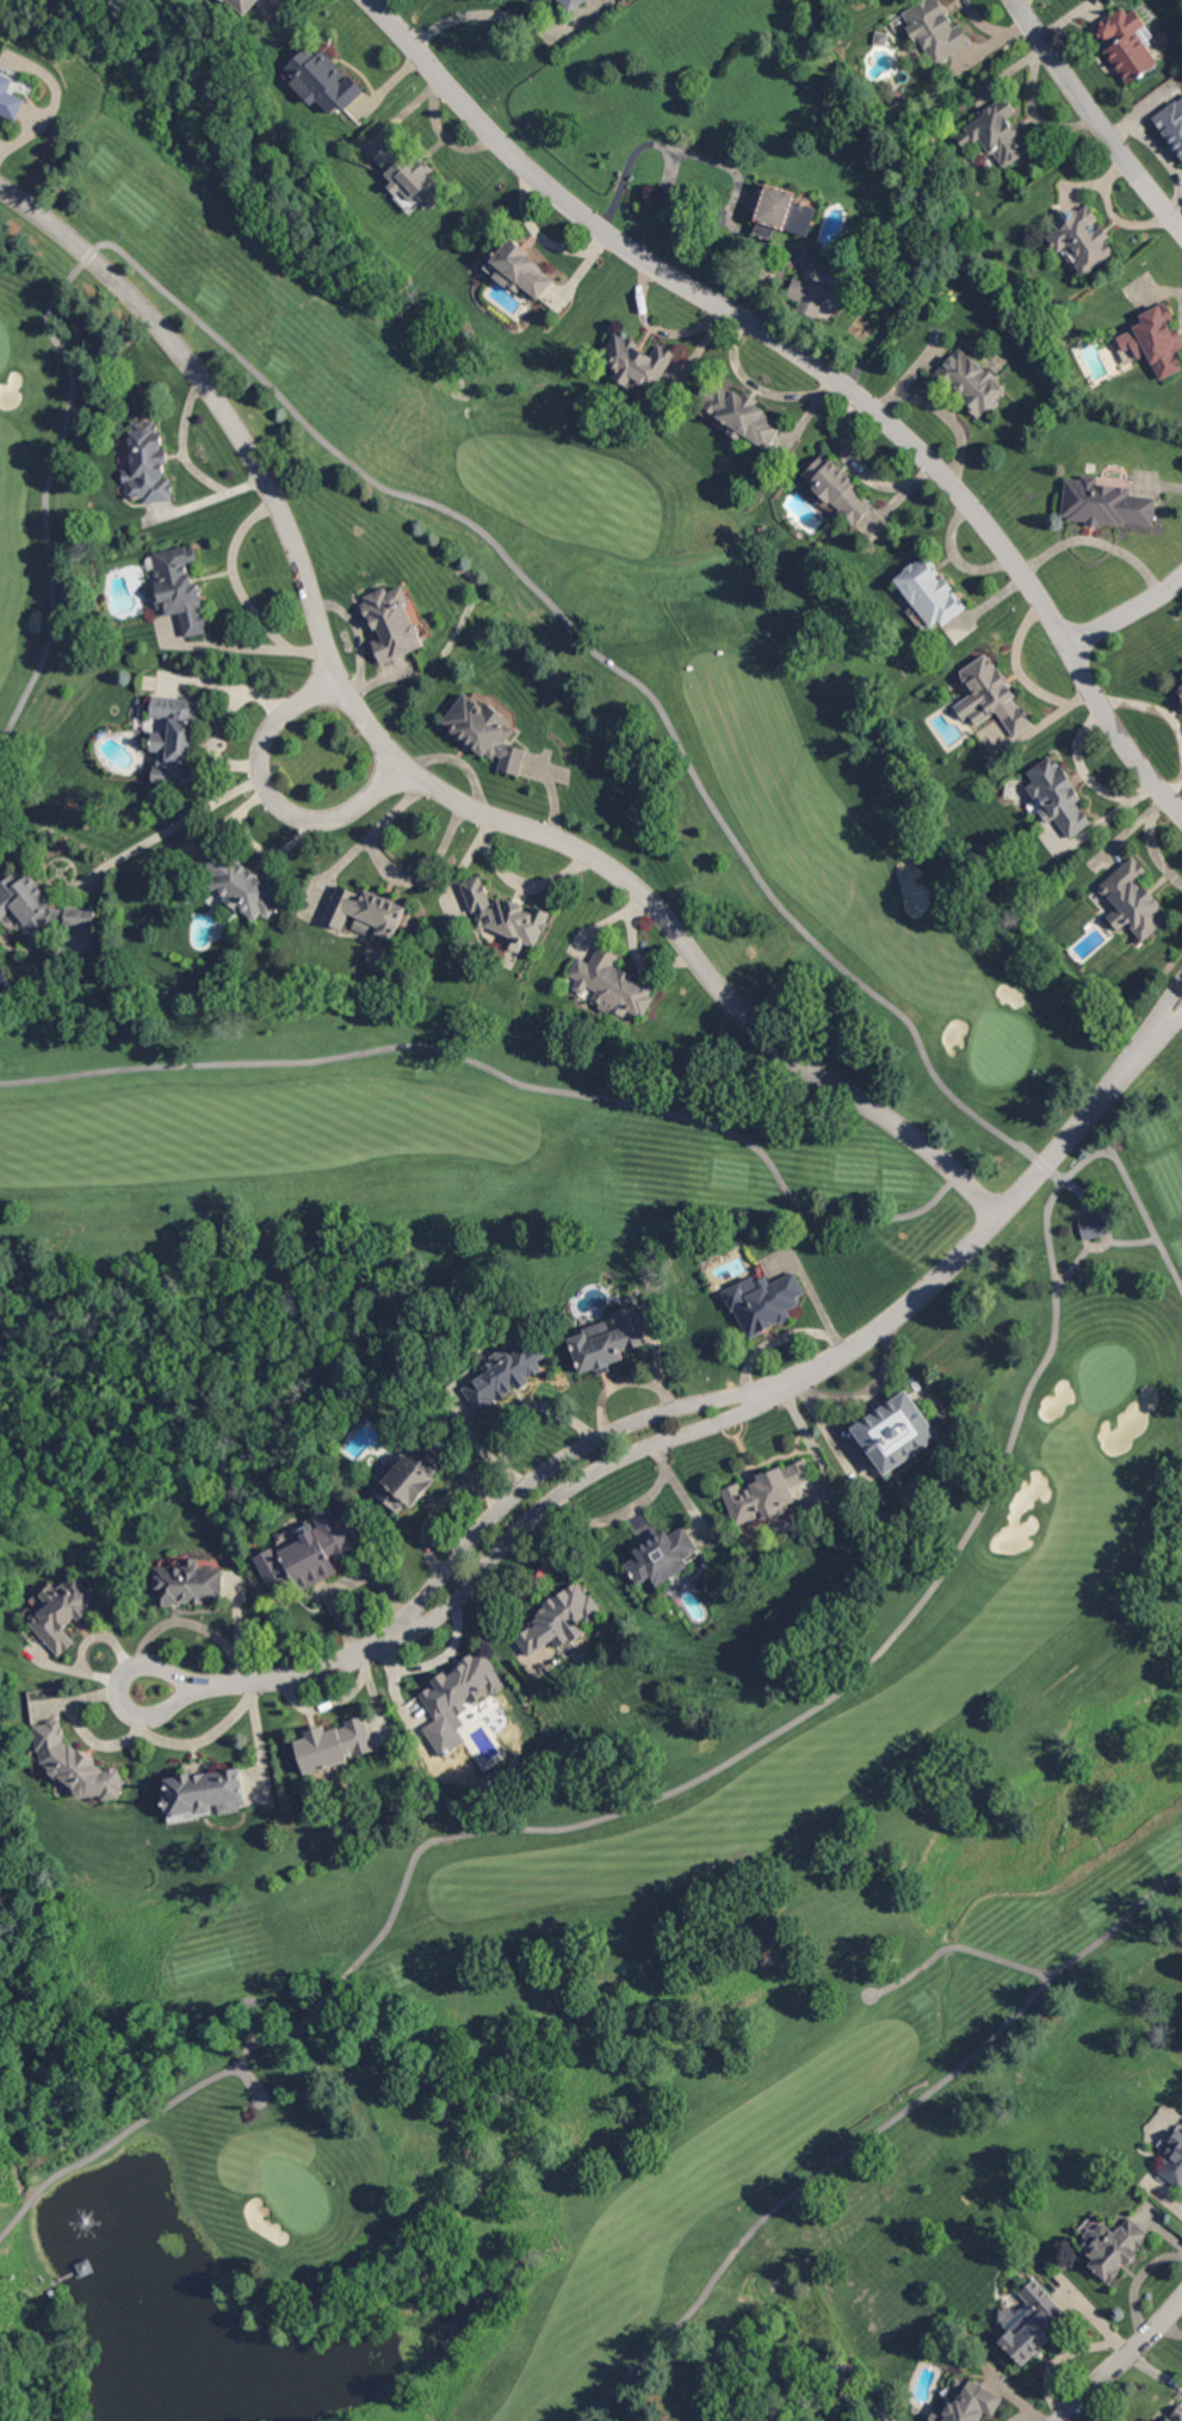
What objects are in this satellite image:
building: (559, 0)
building: (245, 5)
building: (574, 5)
road: (481, 13)
building: (905, 16)
building: (880, 39)
building: (1130, 43)
building: (932, 44)
building: (326, 81)
road: (1081, 94)
building: (10, 99)
building: (1172, 123)
building: (997, 132)
building: (413, 174)
road: (1165, 209)
building: (778, 213)
building: (1082, 237)
building: (766, 264)
building: (519, 270)
building: (809, 297)
building: (1157, 341)
building: (638, 363)
road: (818, 364)
building: (973, 382)
building: (741, 416)
building: (149, 465)
building: (840, 489)
road: (419, 499)
building: (1106, 503)
road: (1096, 541)
building: (181, 588)
building: (927, 594)
road: (1127, 613)
building: (394, 624)
building: (1181, 674)
building: (1181, 689)
building: (995, 696)
road: (218, 720)
building: (487, 731)
building: (177, 738)
road: (417, 776)
road: (1084, 776)
road: (271, 795)
building: (1060, 798)
road: (169, 829)
building: (240, 884)
building: (1134, 900)
building: (39, 908)
building: (367, 912)
building: (506, 916)
building: (612, 983)
building: (5, 985)
road: (497, 1073)
building: (1096, 1227)
road: (1073, 1262)
road: (1169, 1265)
building: (766, 1302)
park: (553, 1315)
building: (609, 1342)
building: (506, 1375)
road: (703, 1414)
building: (897, 1432)
building: (411, 1478)
building: (767, 1493)
building: (307, 1554)
building: (663, 1556)
building: (190, 1584)
building: (66, 1611)
building: (562, 1618)
road: (892, 1635)
building: (462, 1685)
building: (336, 1745)
building: (76, 1766)
building: (209, 1792)
road: (1041, 1971)
road: (864, 1995)
road: (250, 1998)
building: (427, 2074)
road: (898, 2095)
road: (166, 2107)
building: (1174, 2165)
road: (788, 2173)
road: (804, 2185)
building: (1115, 2247)
pier: (86, 2268)
building: (1033, 2324)
road: (1170, 2329)
road: (1121, 2361)
building: (971, 2404)
building: (1176, 2414)

